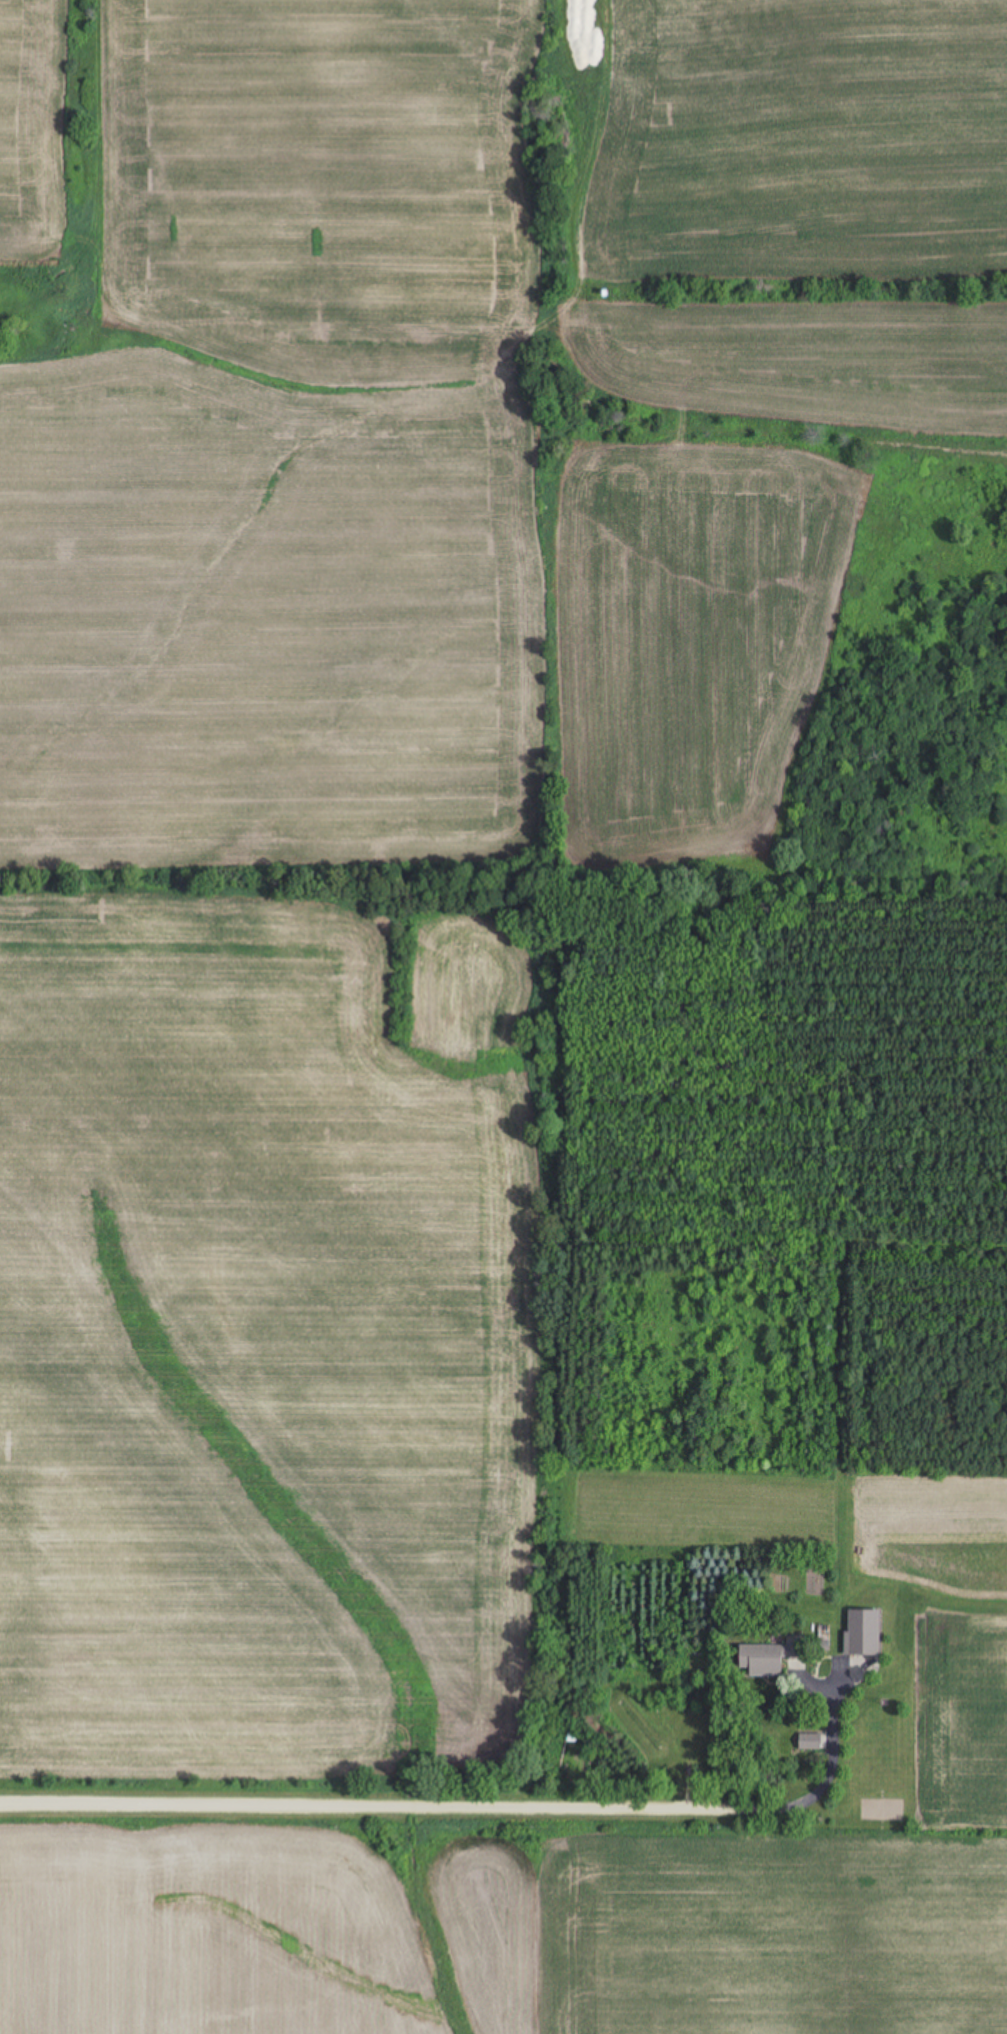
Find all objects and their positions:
building: (862, 1633)
building: (768, 1656)
building: (808, 1741)
road: (834, 1753)
road: (397, 1812)

